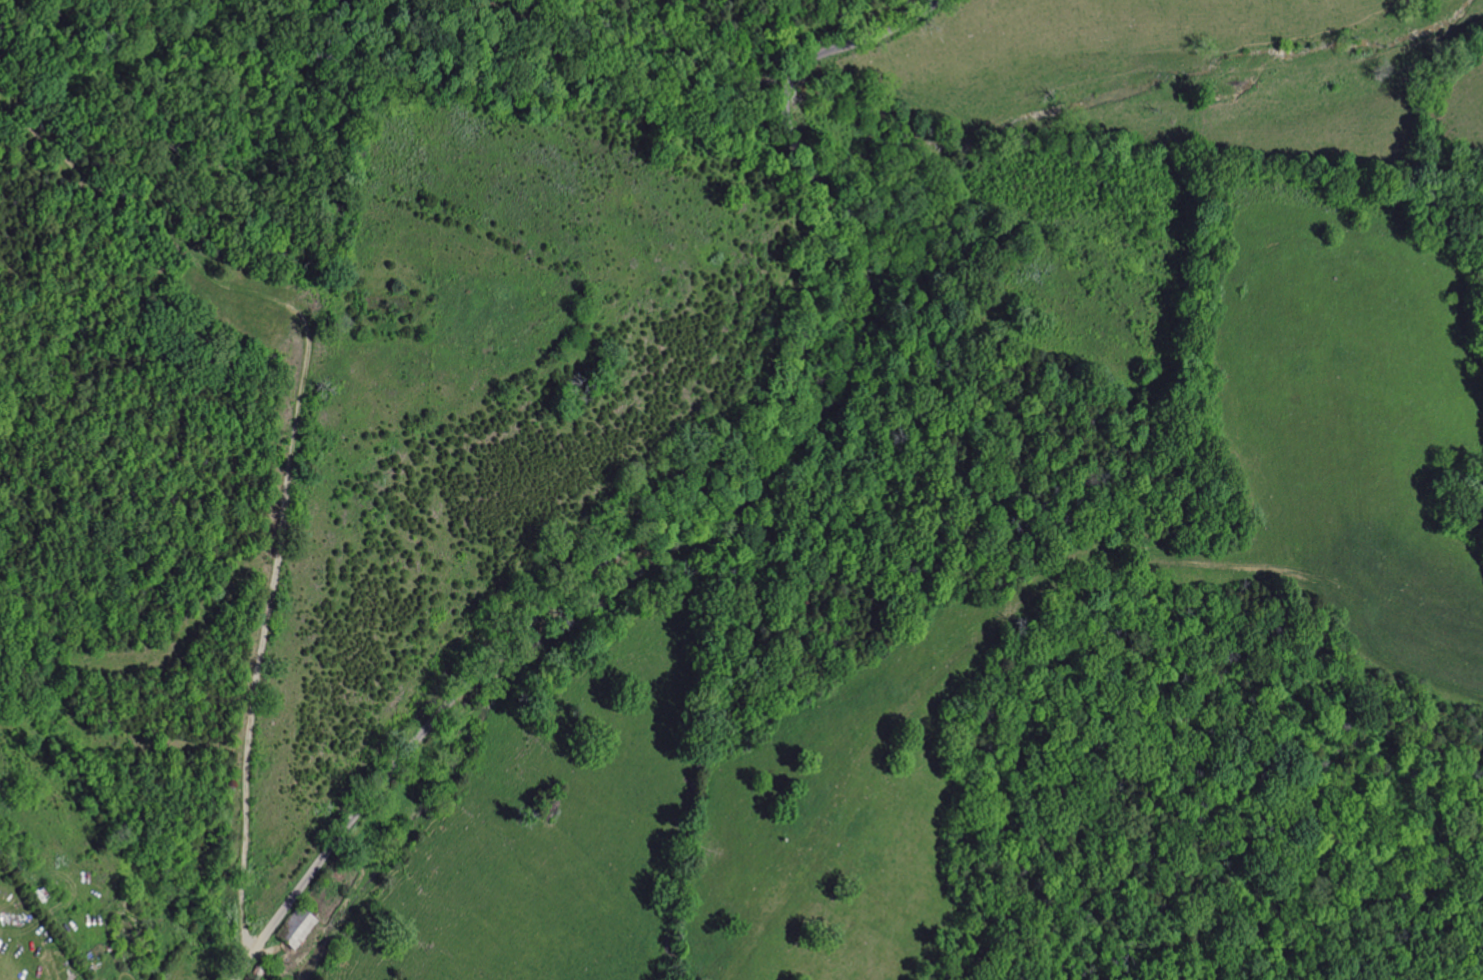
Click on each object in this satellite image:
road: (684, 506)
building: (297, 931)

